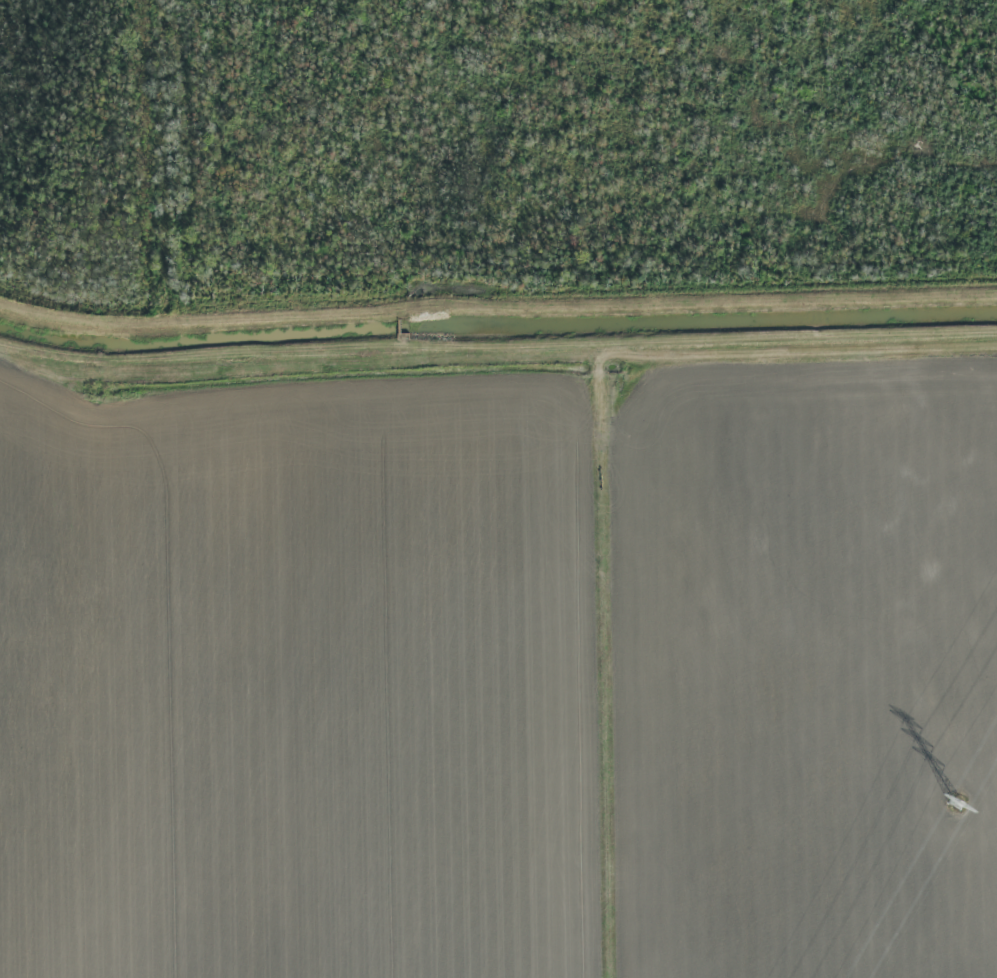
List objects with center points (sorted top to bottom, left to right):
road: (497, 314)
road: (497, 360)
road: (606, 667)
power tower: (958, 804)

